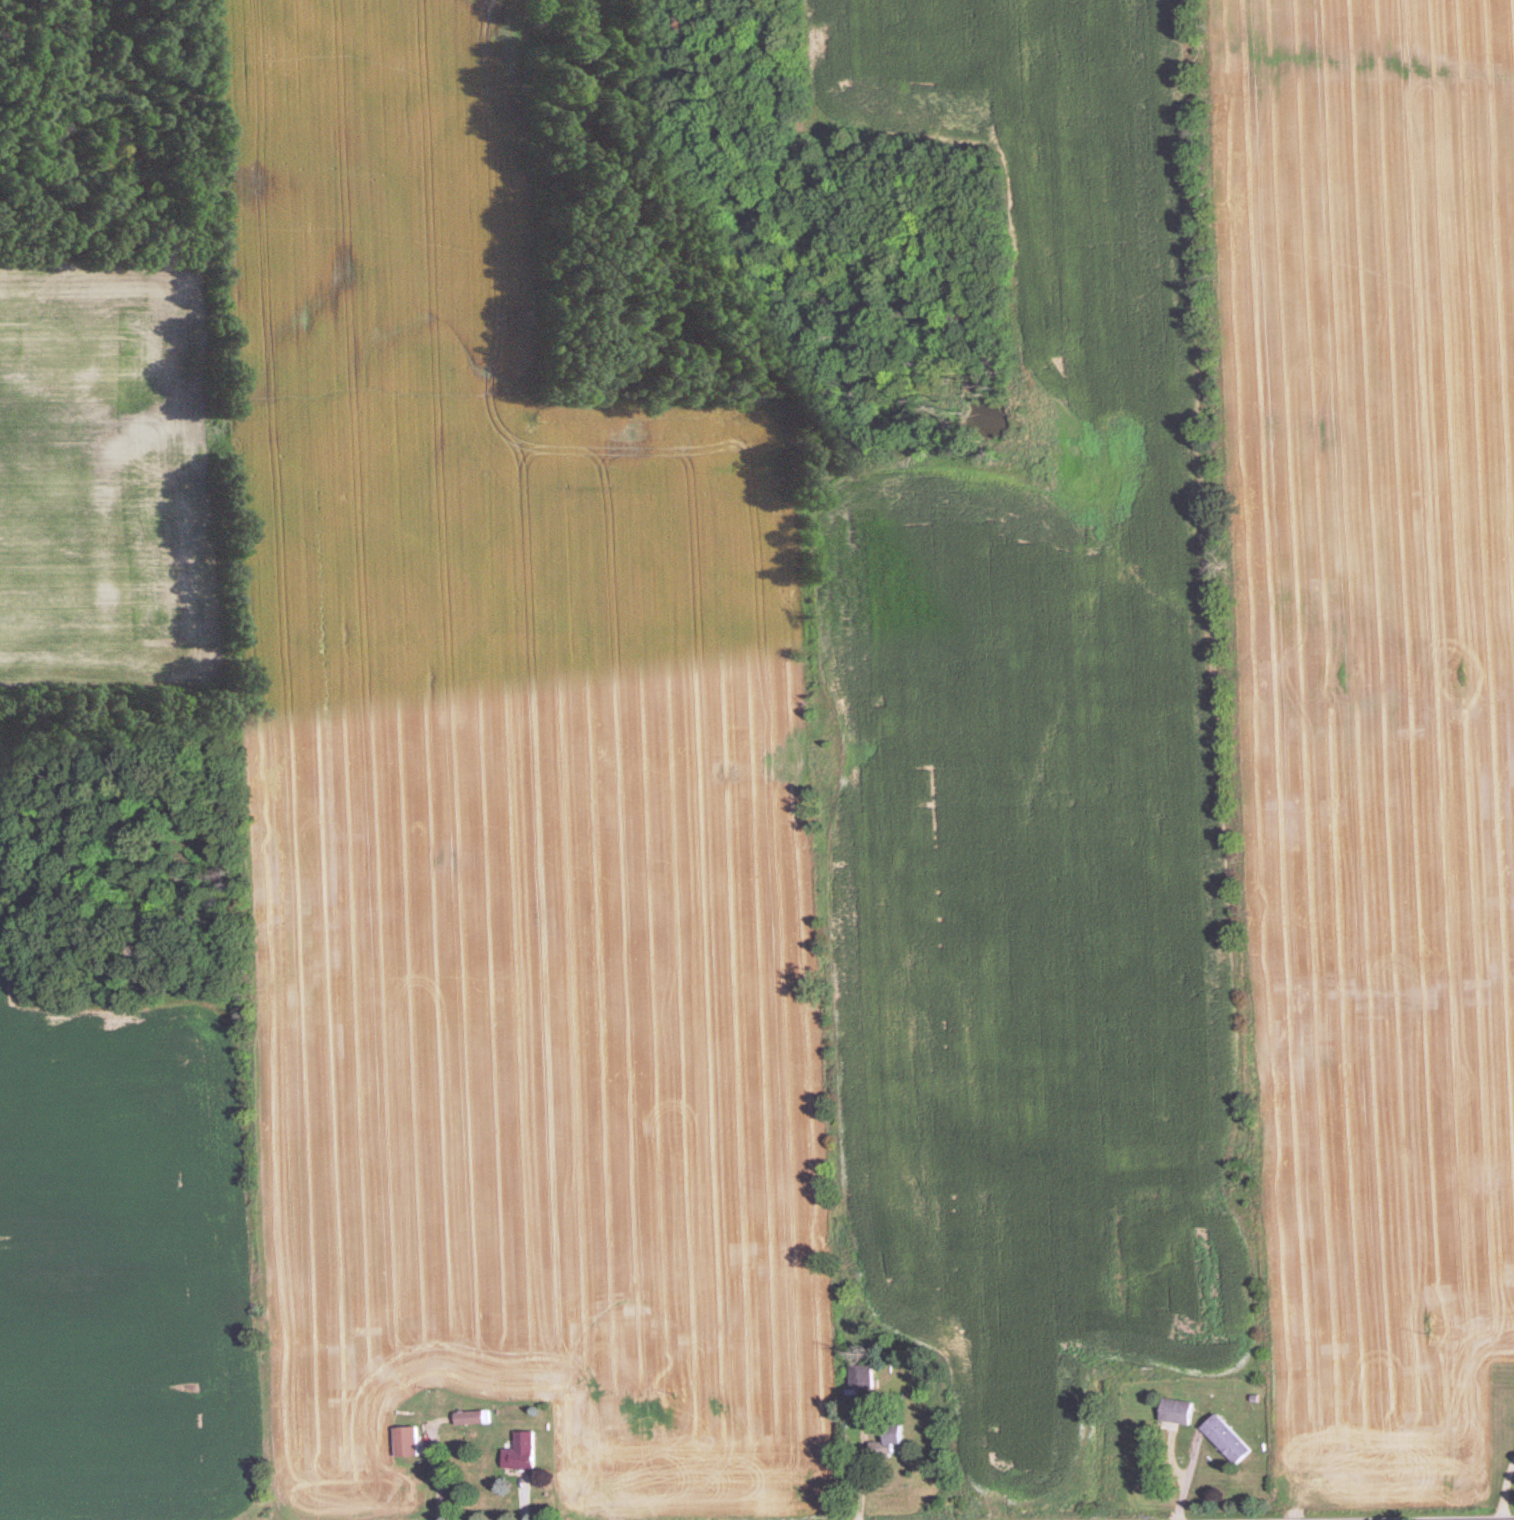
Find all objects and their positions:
building: (855, 1377)
building: (1173, 1412)
building: (464, 1418)
building: (1223, 1440)
building: (402, 1442)
building: (881, 1442)
building: (515, 1452)

